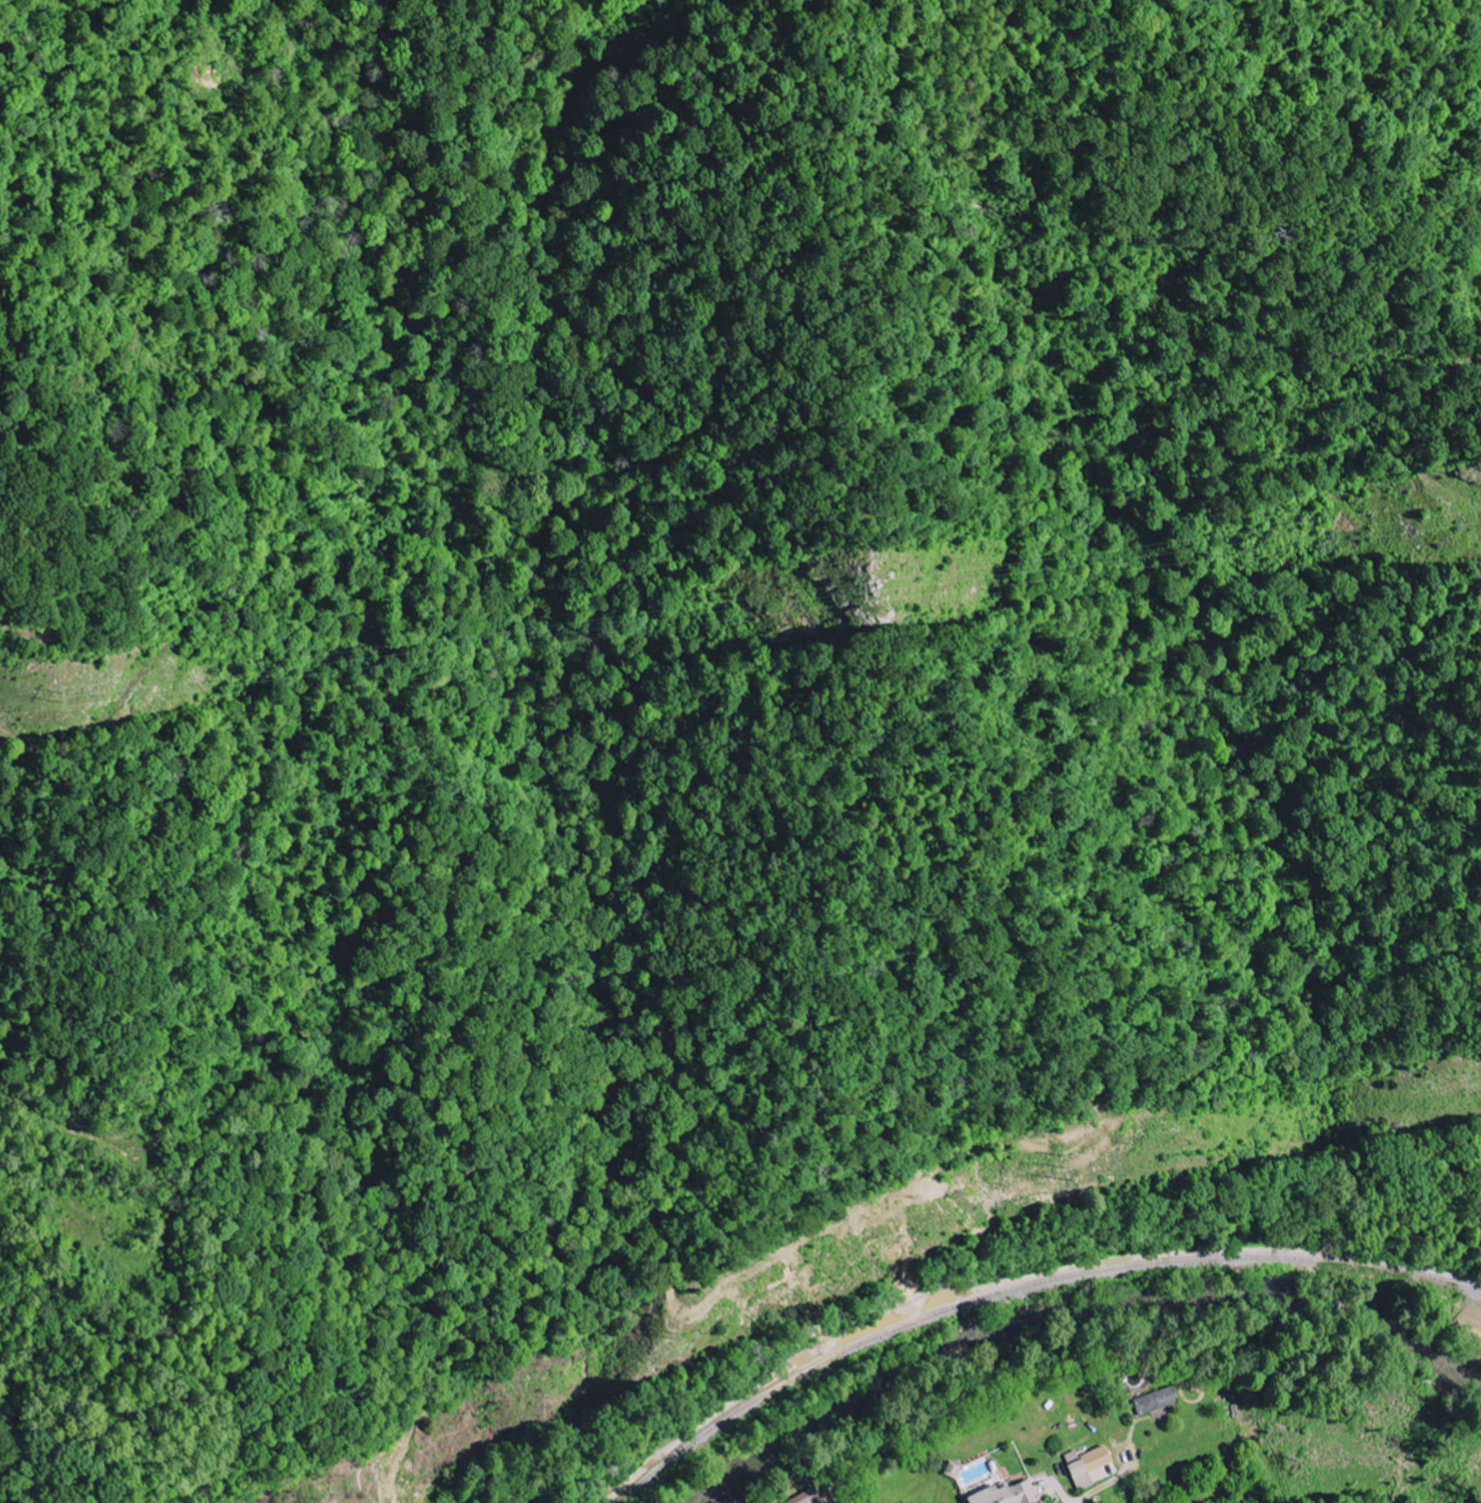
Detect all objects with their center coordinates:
railway: (1016, 1282)
river: (1074, 1301)
building: (1152, 1401)
building: (1094, 1465)
building: (1009, 1494)
road: (1065, 1499)

